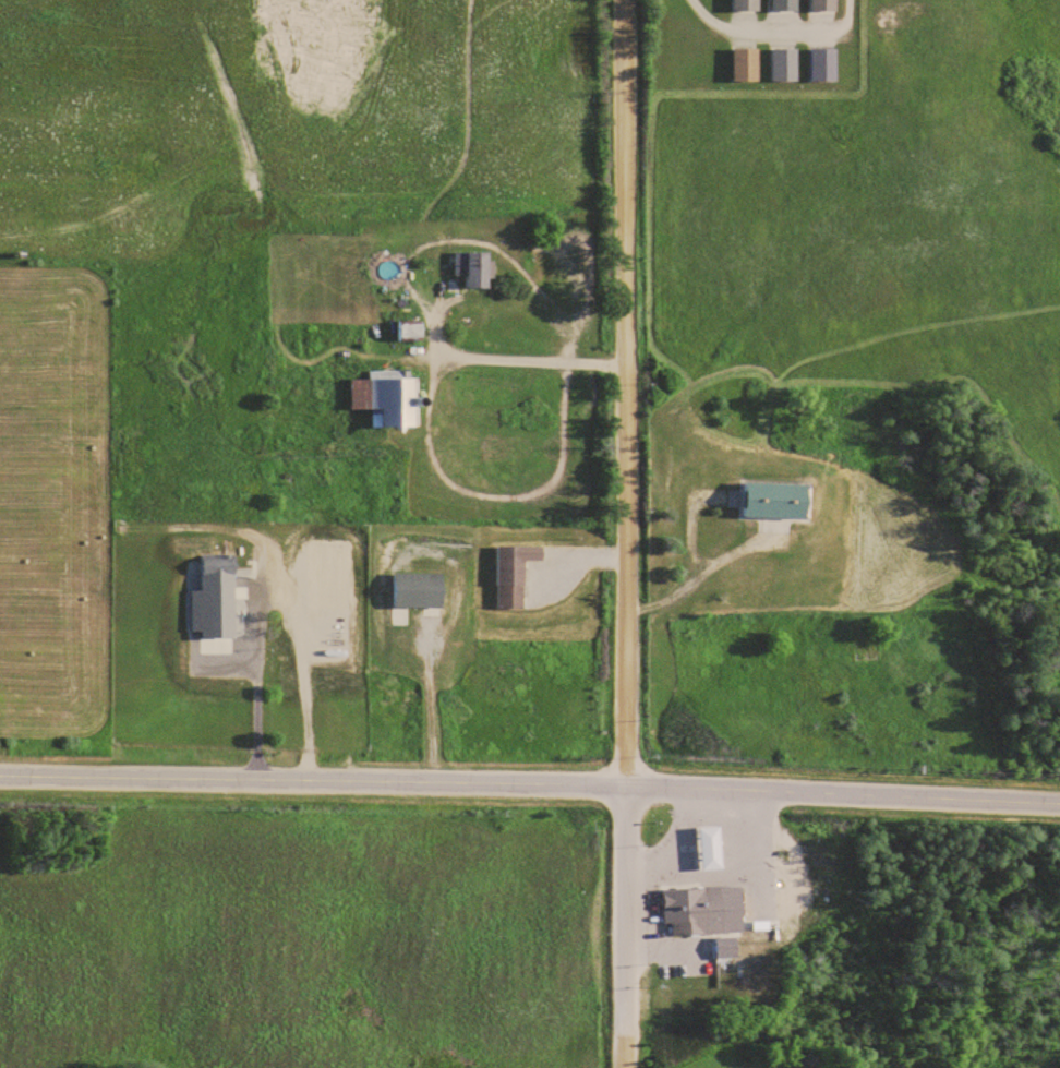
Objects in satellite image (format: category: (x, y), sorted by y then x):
building: (748, 5)
building: (786, 5)
building: (826, 5)
building: (747, 65)
building: (786, 67)
building: (826, 67)
building: (475, 269)
building: (412, 331)
road: (511, 353)
building: (389, 399)
building: (776, 501)
road: (627, 533)
building: (219, 566)
building: (513, 578)
road: (255, 675)
road: (530, 783)
building: (696, 910)

